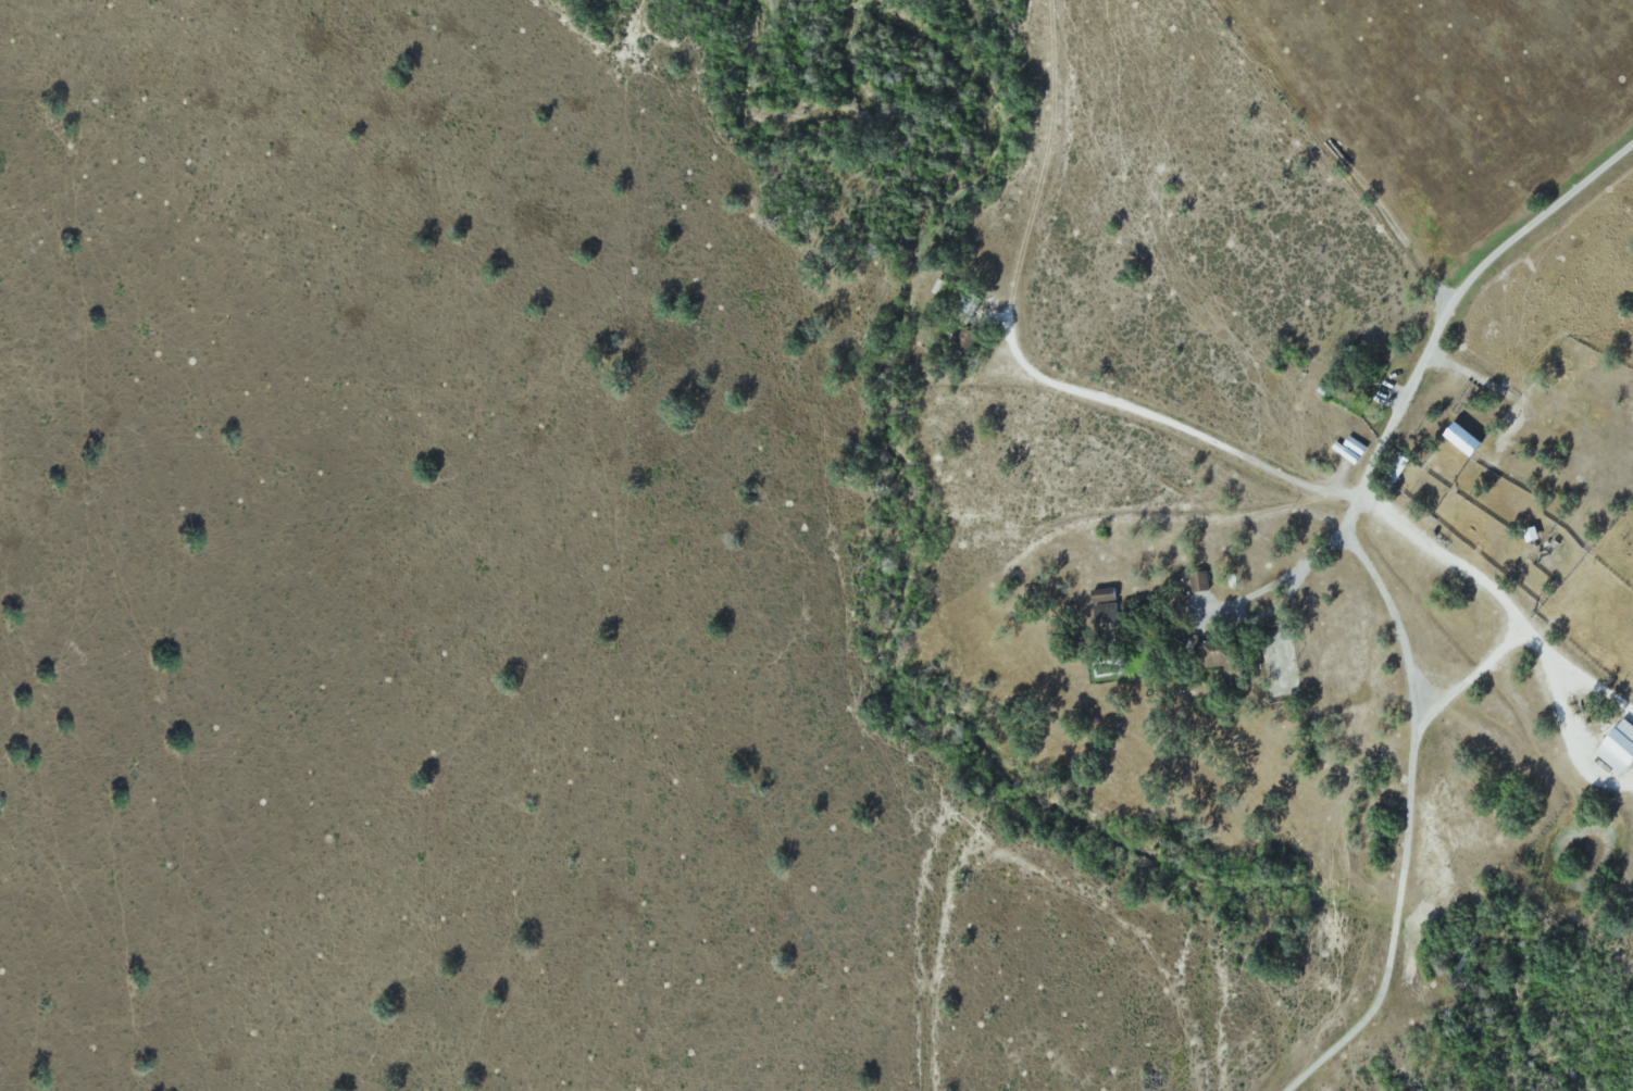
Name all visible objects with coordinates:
road: (1038, 151)
road: (1460, 291)
building: (969, 339)
road: (1159, 417)
building: (1470, 439)
building: (1201, 581)
road: (1503, 597)
building: (1107, 606)
building: (1221, 653)
building: (1621, 748)
road: (1411, 803)

